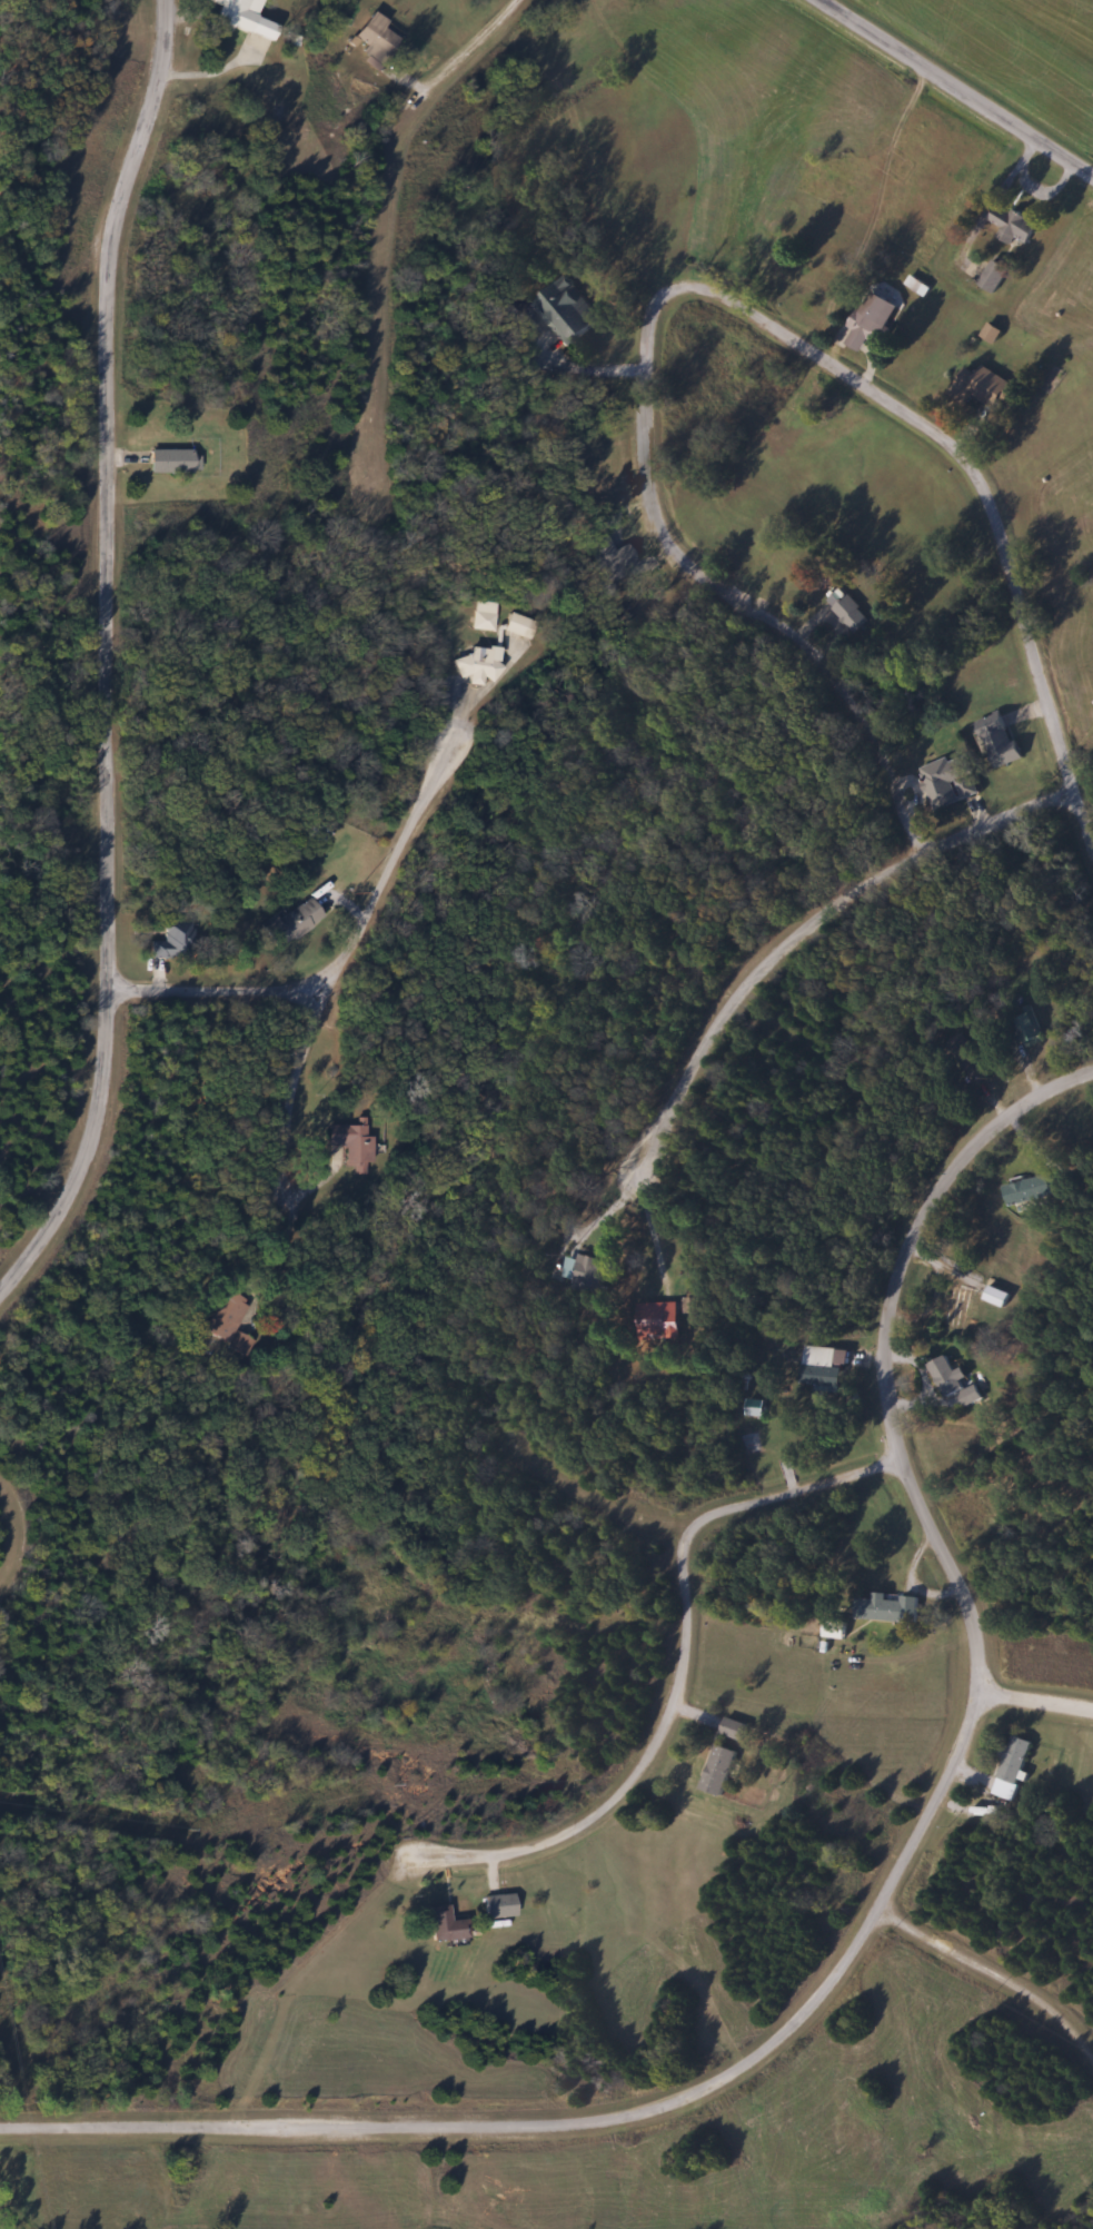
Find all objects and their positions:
building: (232, 14)
building: (376, 36)
road: (464, 55)
road: (958, 88)
building: (1008, 225)
building: (990, 277)
road: (714, 289)
building: (563, 311)
building: (867, 321)
building: (975, 386)
building: (170, 460)
building: (608, 554)
building: (847, 614)
building: (484, 615)
building: (517, 625)
road: (112, 664)
building: (478, 664)
building: (994, 740)
building: (945, 781)
road: (407, 842)
building: (289, 923)
road: (805, 925)
building: (171, 942)
road: (317, 969)
road: (216, 989)
building: (1021, 1026)
road: (288, 1093)
building: (352, 1143)
building: (1022, 1190)
road: (274, 1235)
building: (580, 1275)
building: (992, 1297)
building: (955, 1310)
building: (653, 1320)
building: (230, 1322)
building: (815, 1367)
building: (946, 1377)
road: (745, 1504)
road: (592, 1543)
building: (884, 1608)
road: (1040, 1700)
building: (732, 1730)
building: (1008, 1769)
building: (716, 1771)
road: (603, 1809)
building: (498, 1905)
road: (883, 1905)
building: (445, 1924)
road: (990, 1995)

